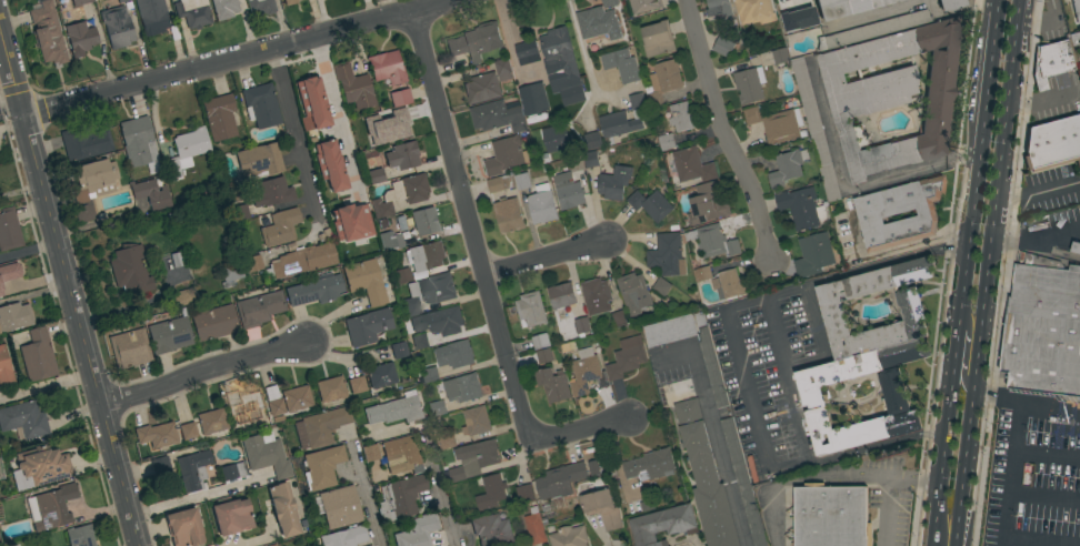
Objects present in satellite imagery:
building: (121, 1)
building: (289, 1)
building: (79, 2)
building: (609, 2)
building: (949, 4)
building: (260, 6)
building: (644, 6)
building: (806, 7)
building: (844, 7)
building: (223, 8)
building: (718, 8)
road: (381, 9)
building: (1076, 9)
building: (754, 11)
building: (192, 12)
building: (151, 16)
building: (601, 26)
building: (117, 27)
building: (872, 30)
building: (47, 33)
building: (79, 38)
building: (658, 39)
road: (510, 41)
building: (474, 42)
building: (722, 46)
building: (1071, 46)
building: (527, 52)
road: (582, 53)
building: (779, 55)
road: (236, 58)
building: (560, 59)
building: (1049, 62)
building: (387, 68)
building: (502, 69)
building: (628, 70)
building: (663, 81)
building: (749, 84)
building: (353, 87)
building: (481, 89)
building: (891, 94)
building: (399, 98)
building: (528, 100)
building: (311, 102)
building: (637, 102)
building: (260, 105)
road: (10, 107)
road: (334, 112)
building: (497, 115)
building: (218, 117)
building: (680, 117)
building: (777, 124)
building: (617, 125)
building: (814, 128)
road: (722, 129)
building: (403, 132)
road: (293, 133)
building: (379, 134)
building: (556, 139)
building: (592, 140)
building: (137, 142)
building: (666, 142)
building: (83, 143)
building: (1052, 143)
building: (186, 151)
road: (977, 153)
building: (402, 155)
building: (506, 155)
road: (961, 156)
building: (590, 159)
building: (259, 161)
building: (329, 164)
building: (690, 165)
building: (787, 166)
road: (840, 173)
building: (376, 175)
building: (521, 181)
building: (614, 182)
building: (500, 183)
building: (570, 185)
building: (90, 186)
building: (271, 192)
road: (1037, 192)
building: (150, 193)
building: (400, 194)
building: (708, 203)
building: (541, 204)
building: (650, 204)
building: (802, 209)
building: (238, 212)
building: (899, 213)
building: (508, 215)
building: (423, 221)
building: (350, 222)
road: (469, 223)
building: (280, 228)
building: (8, 230)
road: (1034, 233)
building: (389, 241)
building: (712, 241)
building: (1076, 247)
road: (28, 250)
building: (813, 254)
building: (667, 255)
building: (424, 256)
building: (178, 259)
building: (303, 260)
road: (546, 260)
building: (252, 263)
road: (884, 263)
building: (129, 270)
road: (984, 272)
road: (952, 273)
road: (997, 273)
building: (231, 274)
building: (702, 274)
building: (402, 275)
building: (364, 281)
building: (729, 283)
building: (661, 285)
road: (69, 286)
building: (1, 287)
building: (313, 291)
building: (428, 292)
building: (633, 293)
building: (561, 295)
building: (596, 296)
building: (180, 297)
building: (259, 309)
building: (530, 310)
building: (833, 310)
building: (14, 316)
building: (620, 317)
building: (439, 322)
building: (213, 323)
building: (582, 325)
building: (367, 326)
building: (1043, 327)
road: (771, 331)
building: (170, 334)
building: (420, 341)
building: (540, 342)
building: (129, 348)
road: (963, 348)
building: (398, 350)
building: (458, 353)
building: (544, 355)
building: (38, 356)
building: (627, 357)
road: (788, 363)
road: (741, 366)
building: (4, 368)
building: (587, 373)
road: (204, 374)
building: (380, 375)
building: (429, 375)
building: (714, 376)
building: (553, 384)
building: (356, 385)
road: (46, 386)
building: (460, 387)
building: (330, 388)
building: (894, 393)
road: (997, 395)
building: (296, 398)
building: (274, 406)
building: (242, 408)
building: (438, 408)
building: (394, 411)
building: (23, 419)
building: (476, 421)
building: (211, 422)
road: (944, 424)
building: (319, 427)
road: (581, 429)
building: (187, 431)
road: (713, 432)
building: (157, 435)
building: (447, 442)
road: (873, 444)
road: (1017, 445)
building: (369, 453)
building: (400, 453)
building: (266, 456)
building: (474, 459)
building: (159, 465)
building: (650, 465)
building: (39, 467)
building: (321, 467)
building: (192, 471)
building: (232, 473)
building: (376, 476)
building: (706, 477)
road: (801, 479)
road: (911, 481)
building: (560, 482)
building: (743, 482)
building: (491, 492)
road: (361, 493)
building: (524, 493)
road: (441, 494)
building: (404, 496)
road: (189, 498)
building: (52, 507)
building: (338, 507)
building: (602, 508)
building: (282, 509)
road: (884, 512)
building: (231, 516)
building: (831, 516)
building: (662, 524)
building: (183, 527)
building: (534, 527)
building: (491, 530)
building: (417, 532)
building: (79, 536)
building: (569, 536)
building: (344, 537)
road: (250, 542)
road: (931, 544)
building: (273, 545)
building: (366, 545)

